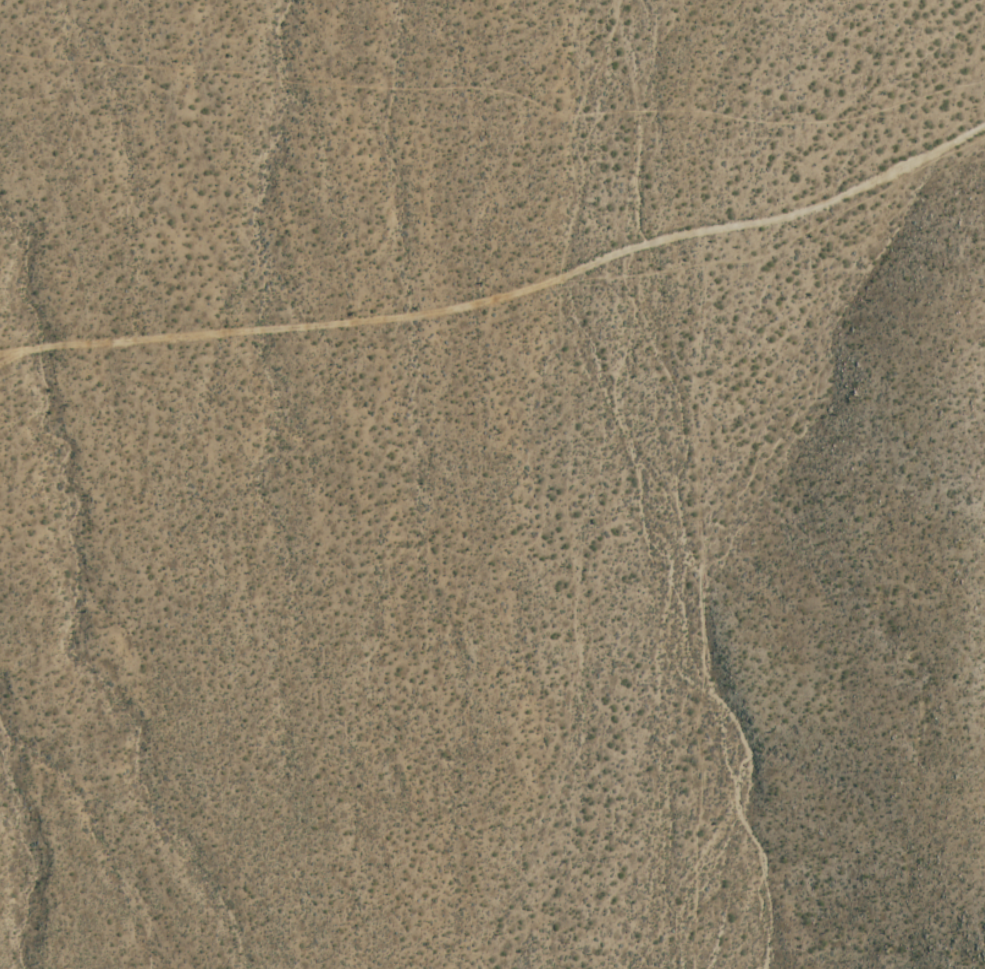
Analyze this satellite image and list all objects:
road: (500, 309)
road: (8, 357)

